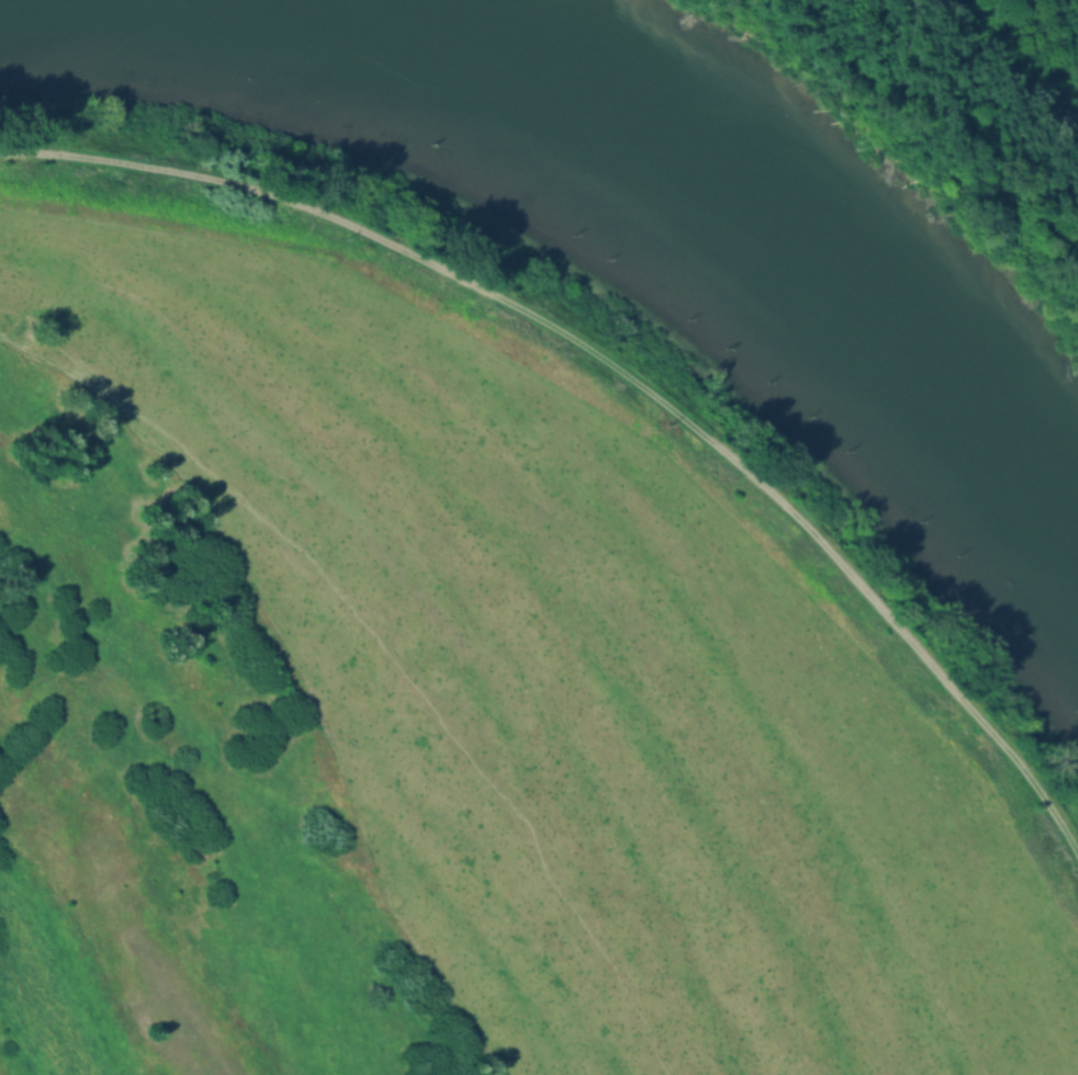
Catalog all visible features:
river: (701, 197)
road: (624, 384)

